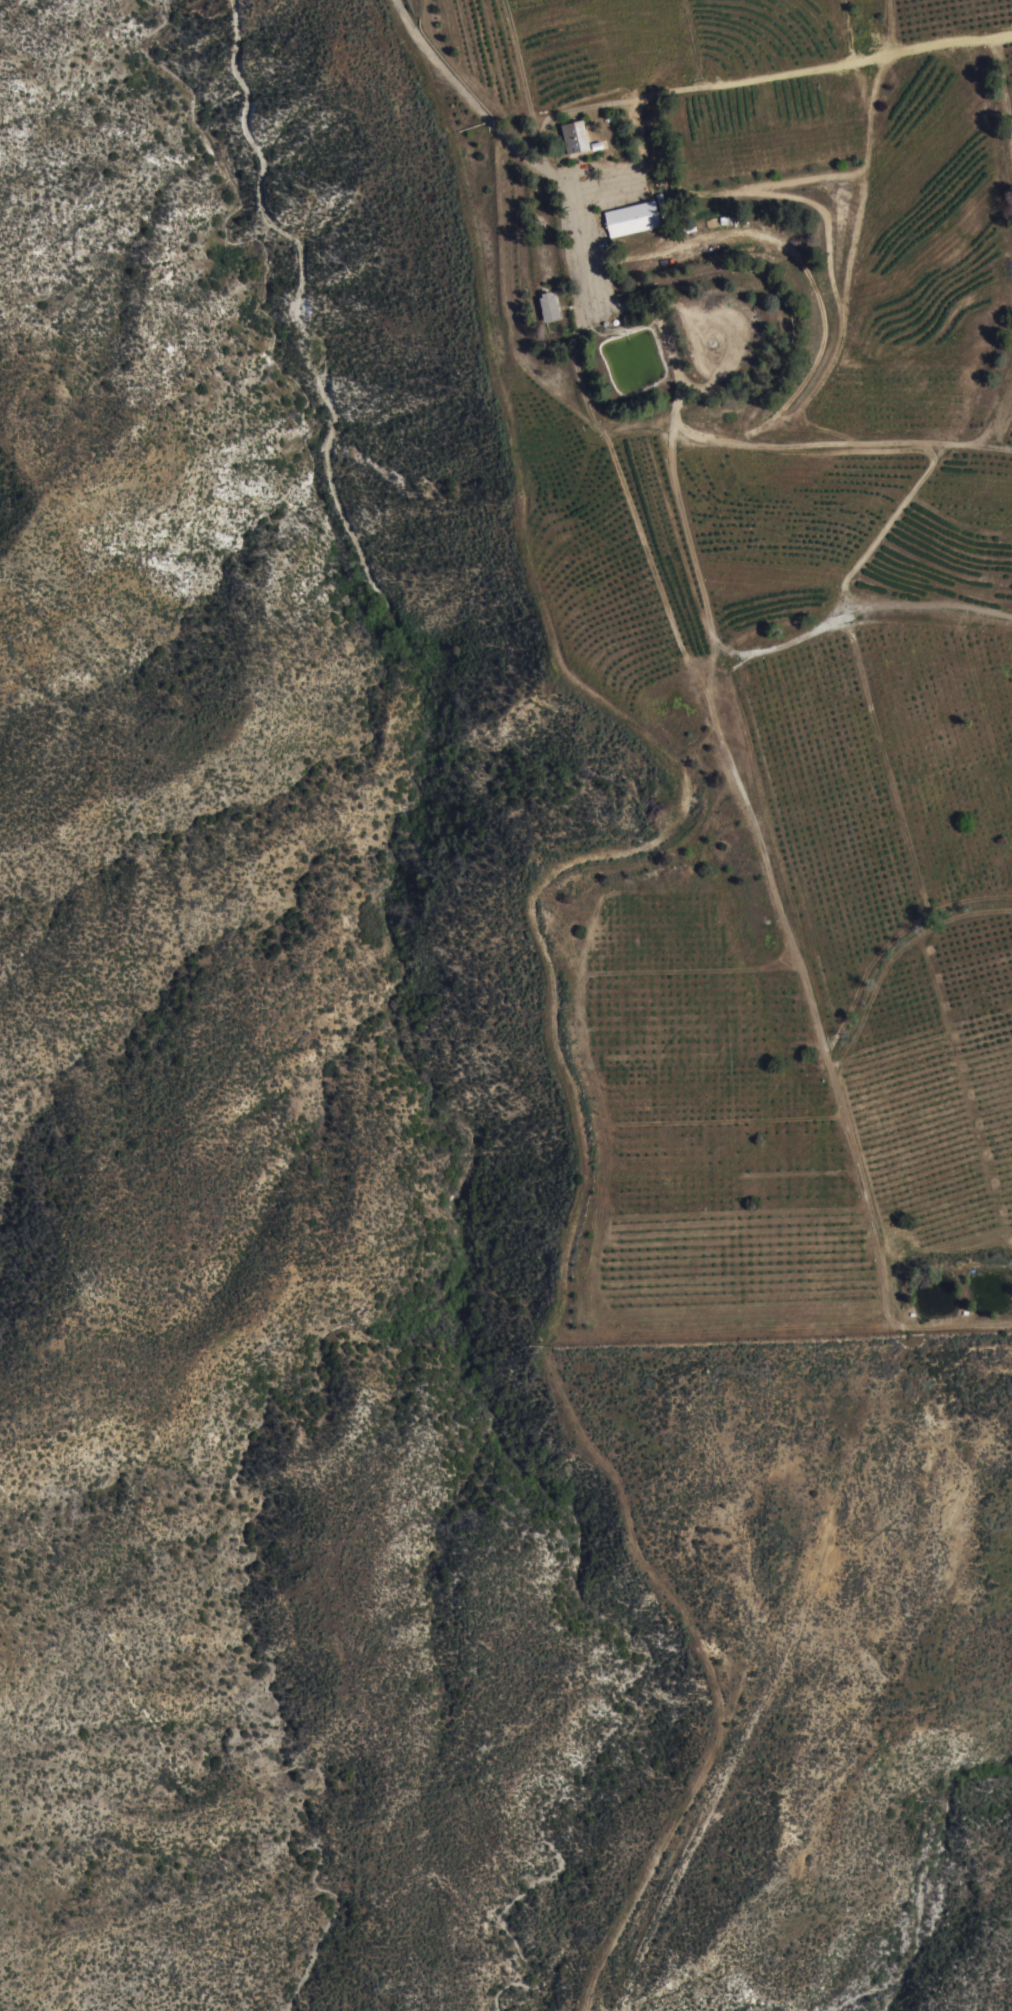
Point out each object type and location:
road: (508, 135)
building: (575, 137)
building: (632, 219)
building: (549, 307)
crop: (794, 657)
road: (624, 710)
road: (718, 1676)

